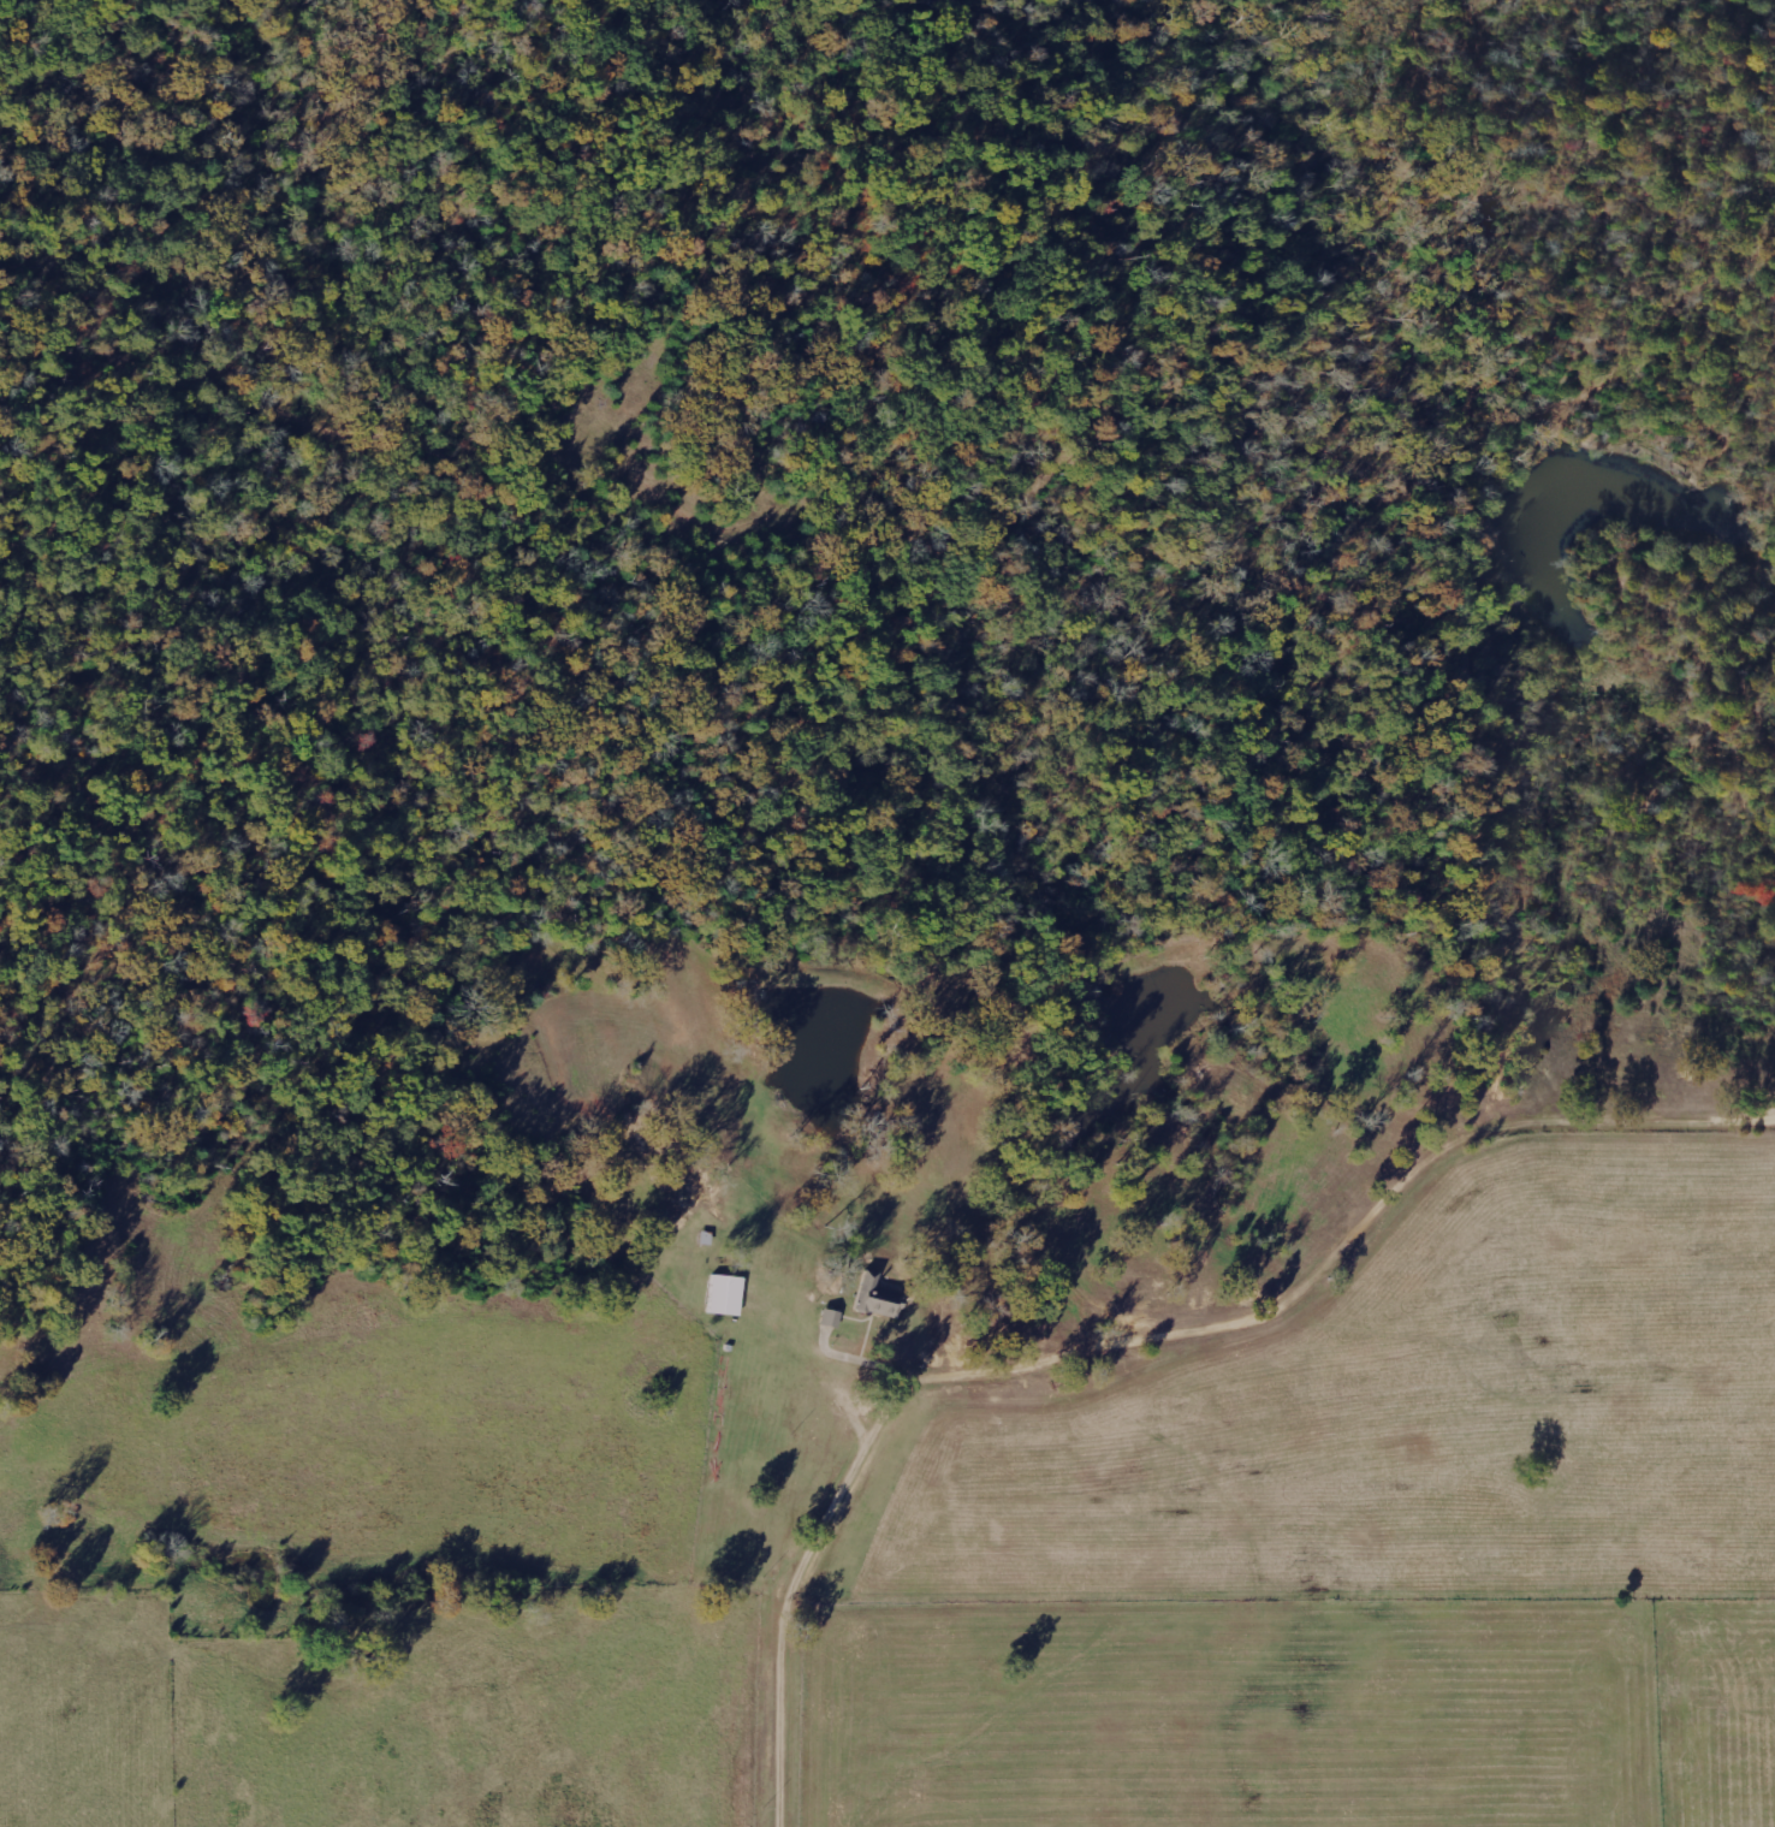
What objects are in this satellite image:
building: (724, 1294)
road: (752, 1728)

